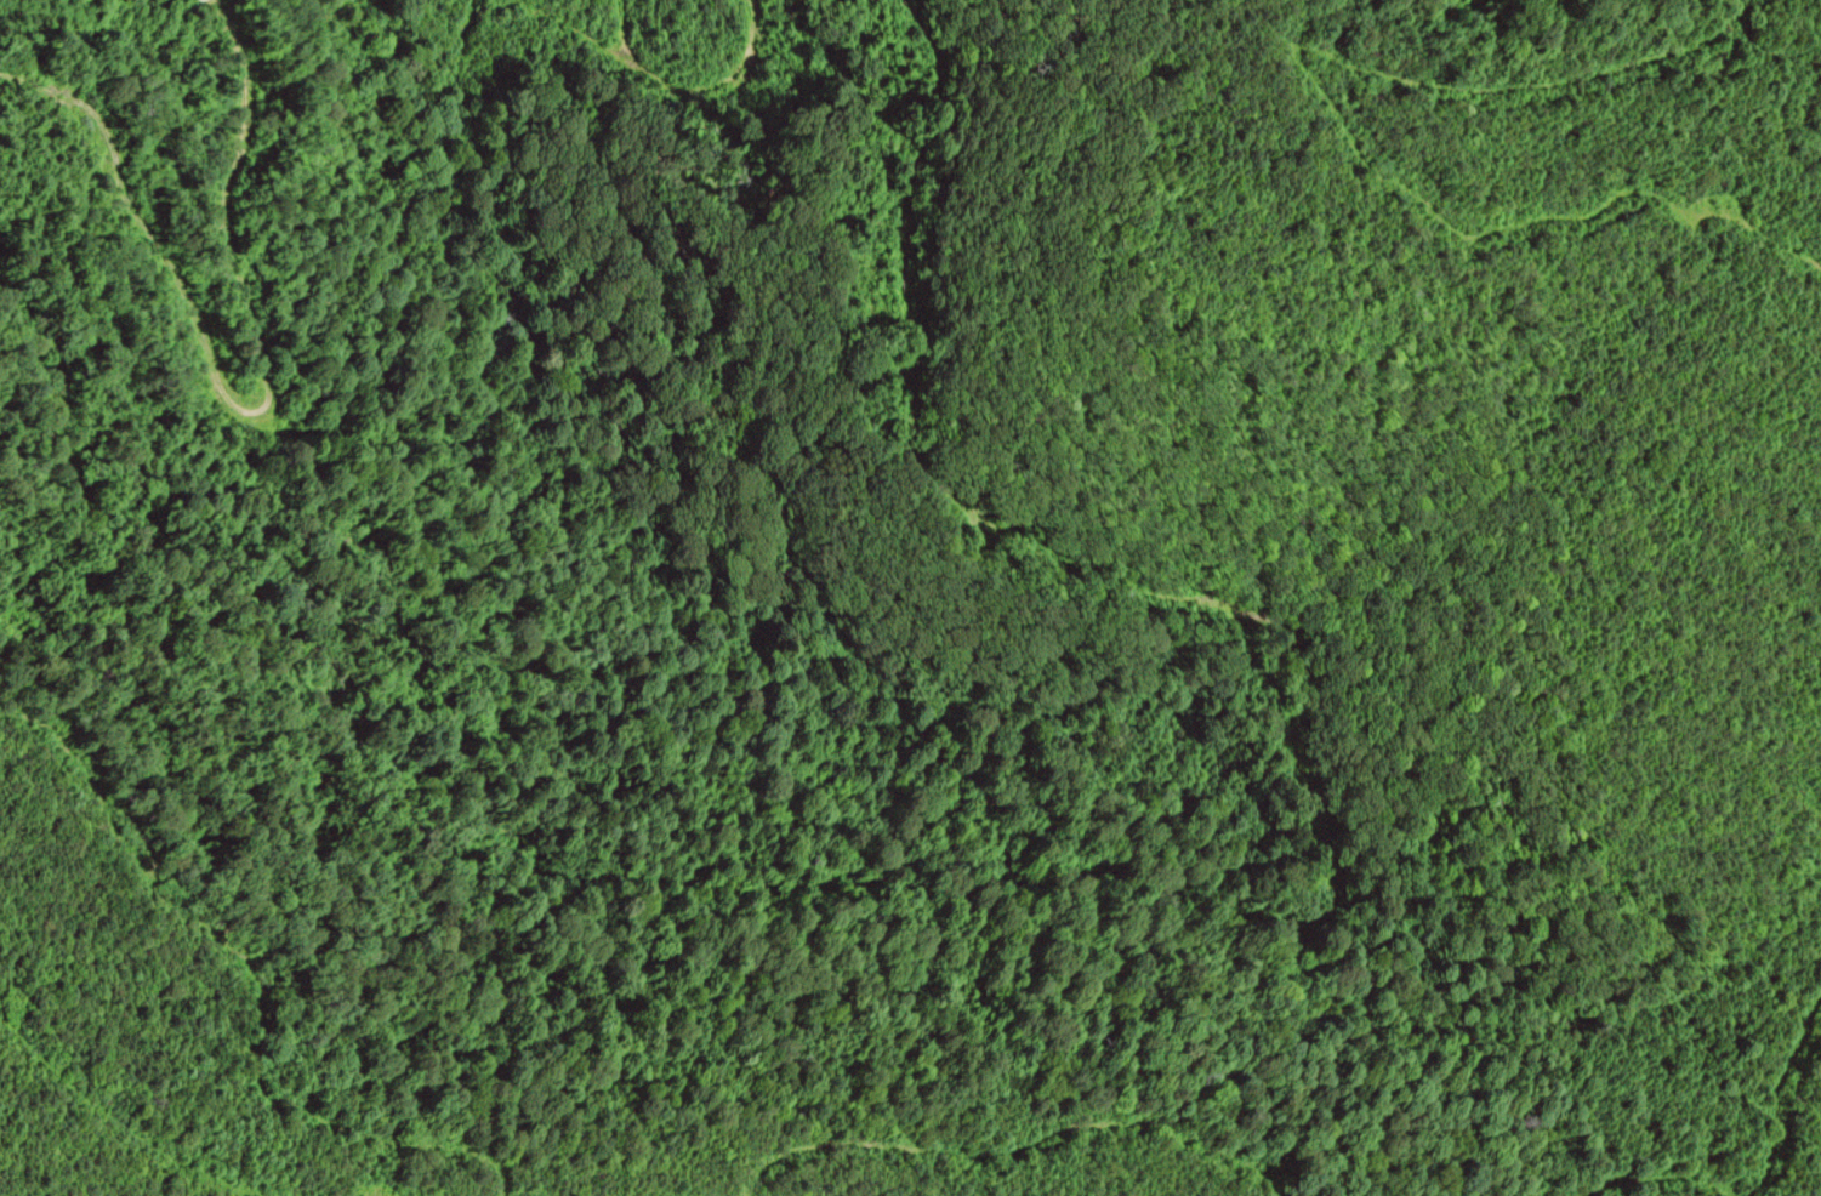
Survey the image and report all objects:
road: (246, 411)

